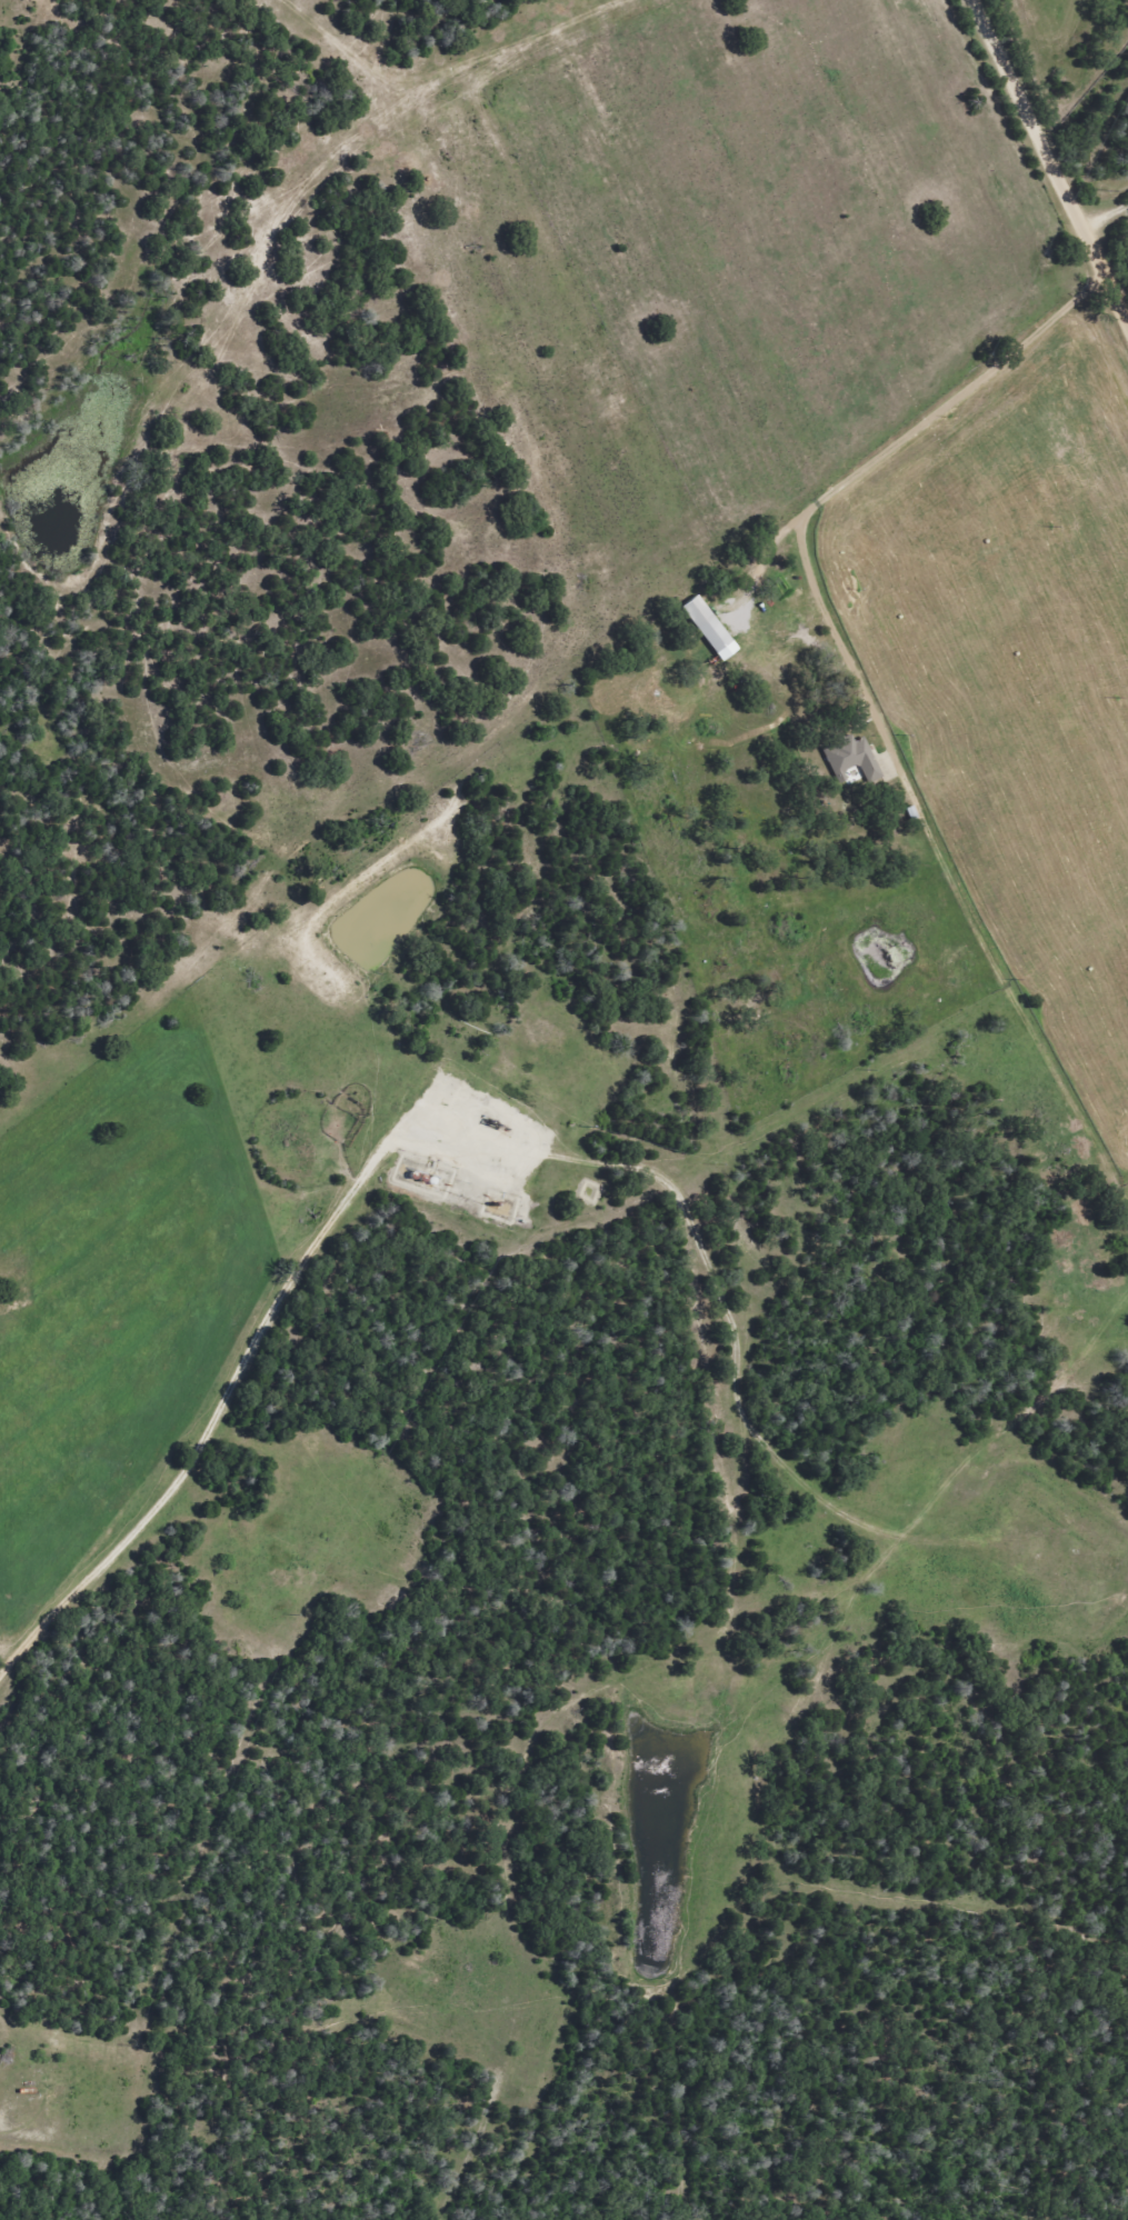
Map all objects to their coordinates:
road: (1051, 162)
building: (708, 628)
road: (864, 684)
building: (850, 760)
road: (496, 1147)
road: (476, 2118)
road: (11, 2119)

